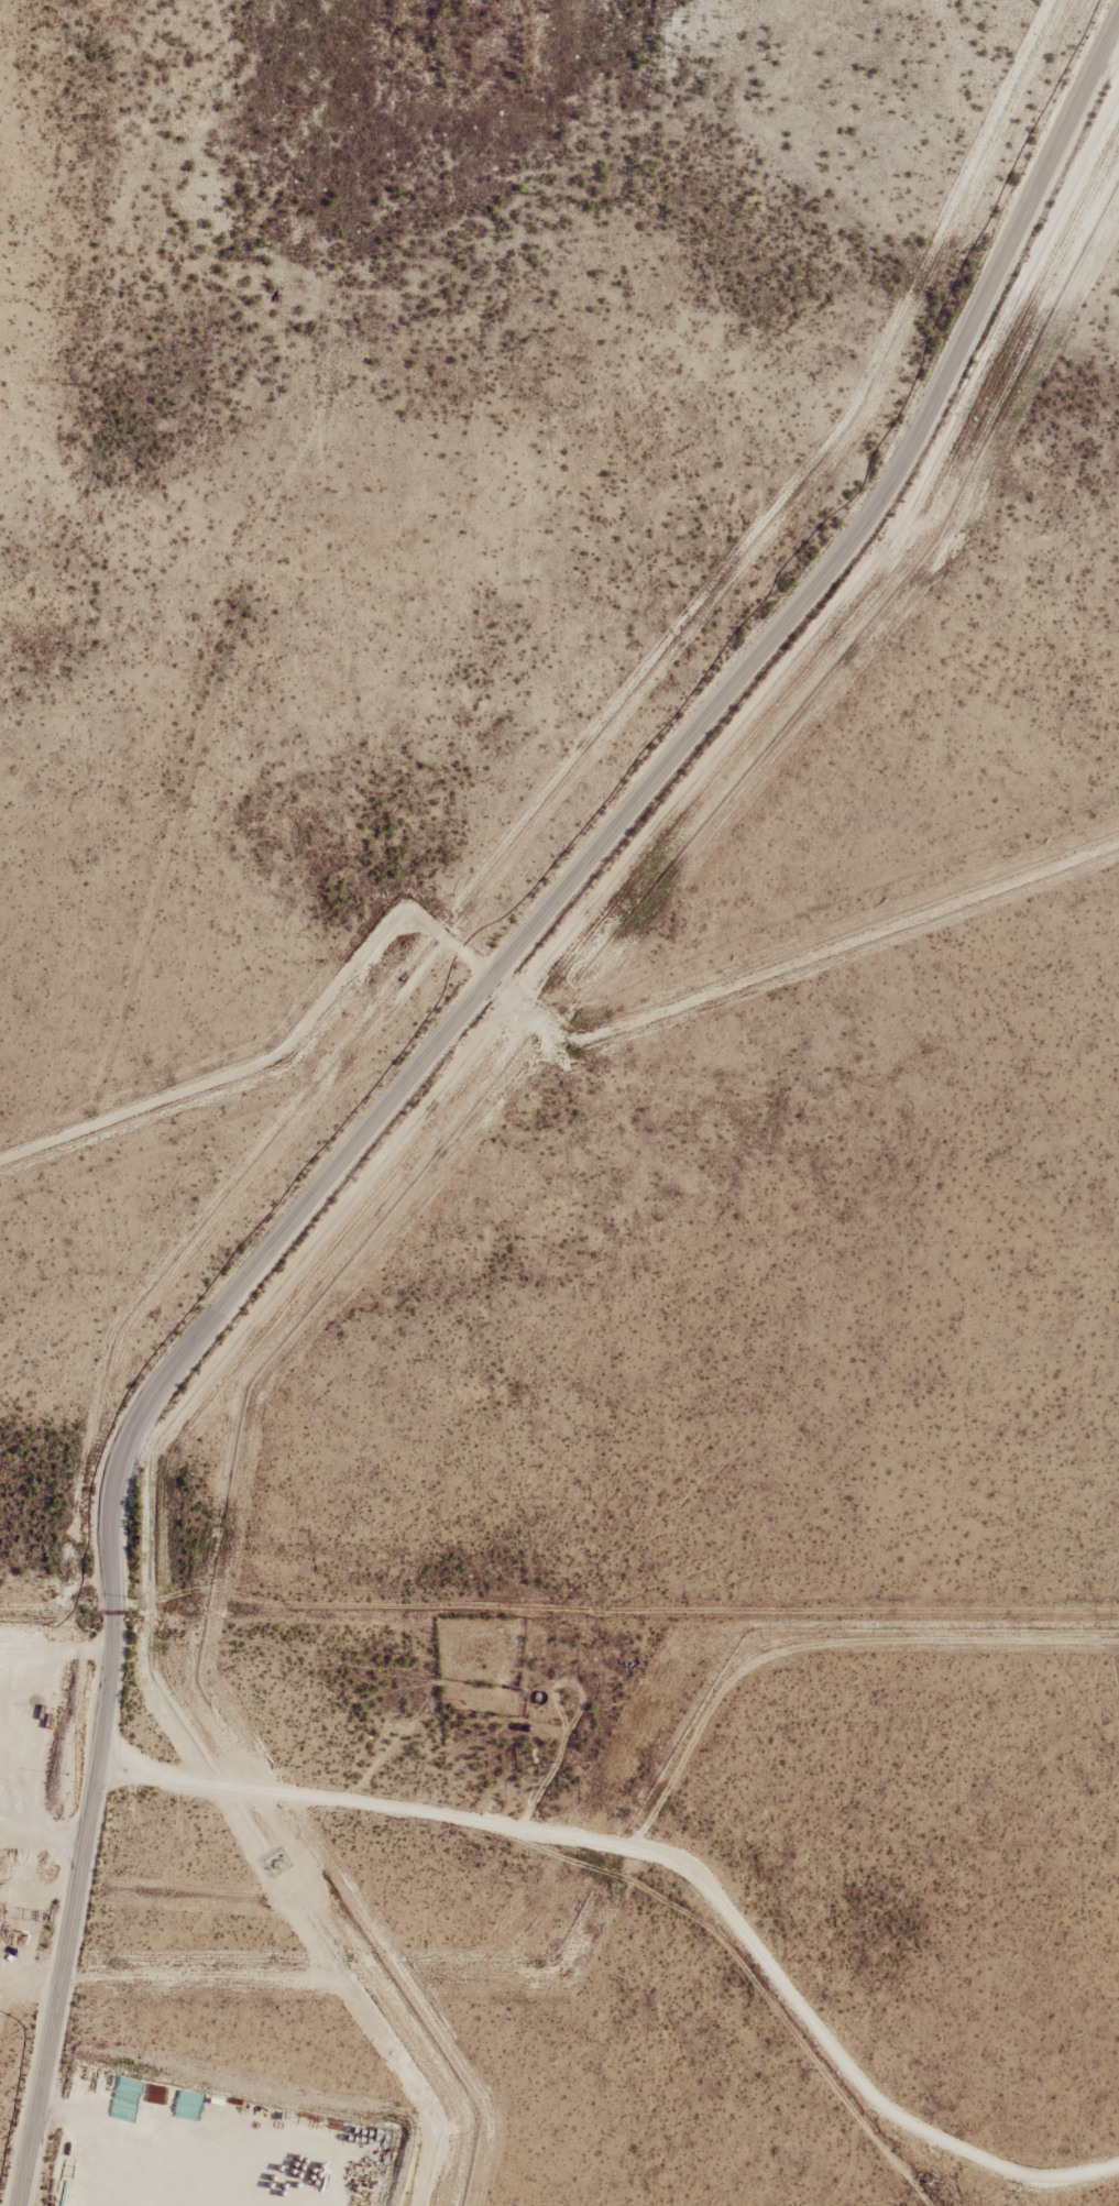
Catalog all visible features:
road: (428, 1060)
road: (6, 1815)
road: (50, 1825)
road: (682, 1848)
road: (113, 2133)

